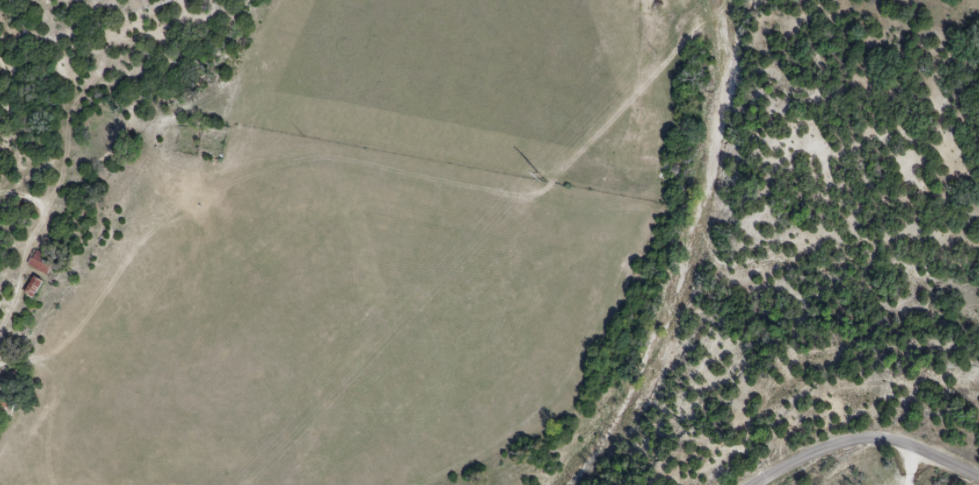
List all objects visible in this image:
power tower: (544, 176)
building: (39, 261)
building: (31, 285)
building: (1, 392)
road: (863, 437)
road: (910, 464)

